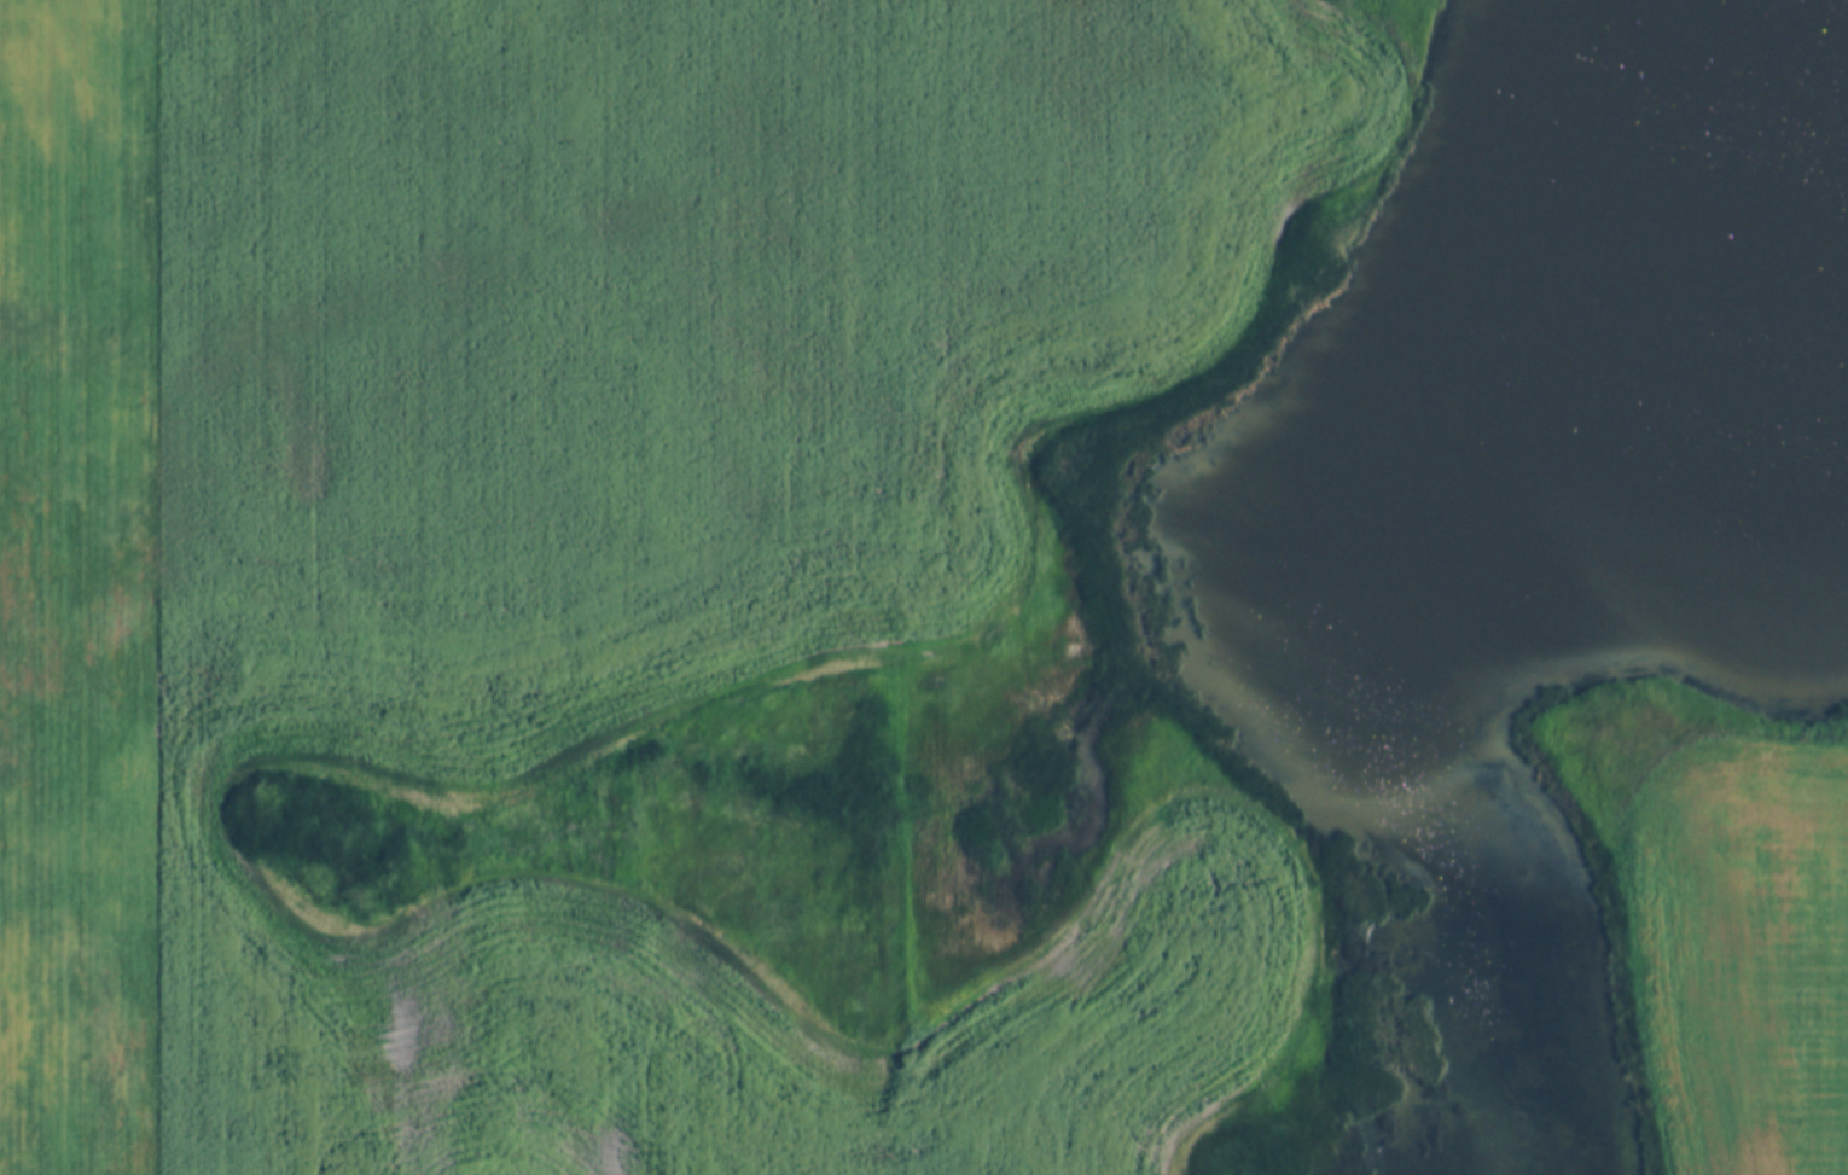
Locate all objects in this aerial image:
crop: (1765, 956)

